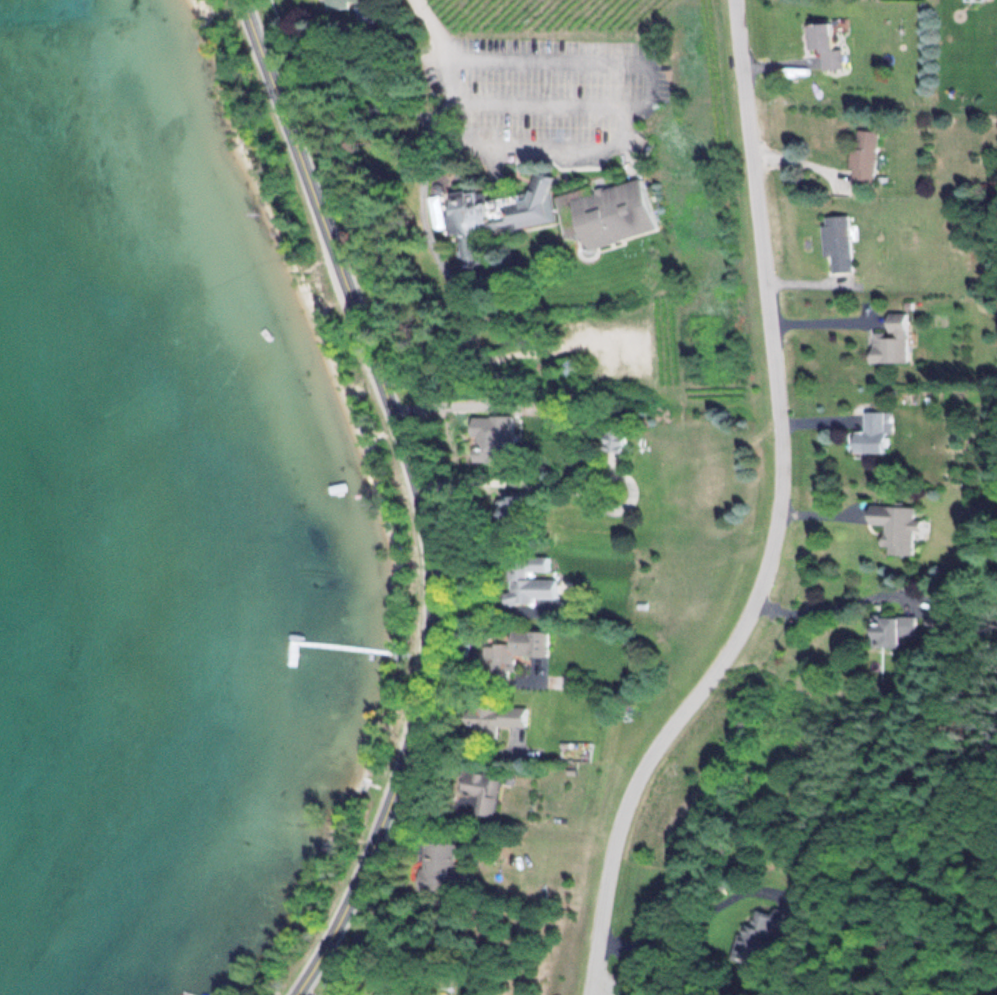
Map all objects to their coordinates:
building: (333, 4)
building: (366, 13)
road: (429, 23)
building: (822, 44)
building: (996, 58)
parking lot: (547, 96)
road: (538, 103)
road: (371, 115)
road: (622, 115)
building: (862, 158)
building: (547, 215)
building: (835, 242)
road: (443, 266)
building: (890, 340)
building: (571, 372)
building: (870, 434)
building: (614, 438)
road: (421, 496)
building: (512, 512)
road: (777, 518)
building: (894, 526)
building: (529, 580)
building: (891, 628)
building: (515, 651)
building: (490, 715)
building: (482, 789)
building: (441, 864)
building: (763, 933)
building: (391, 990)

